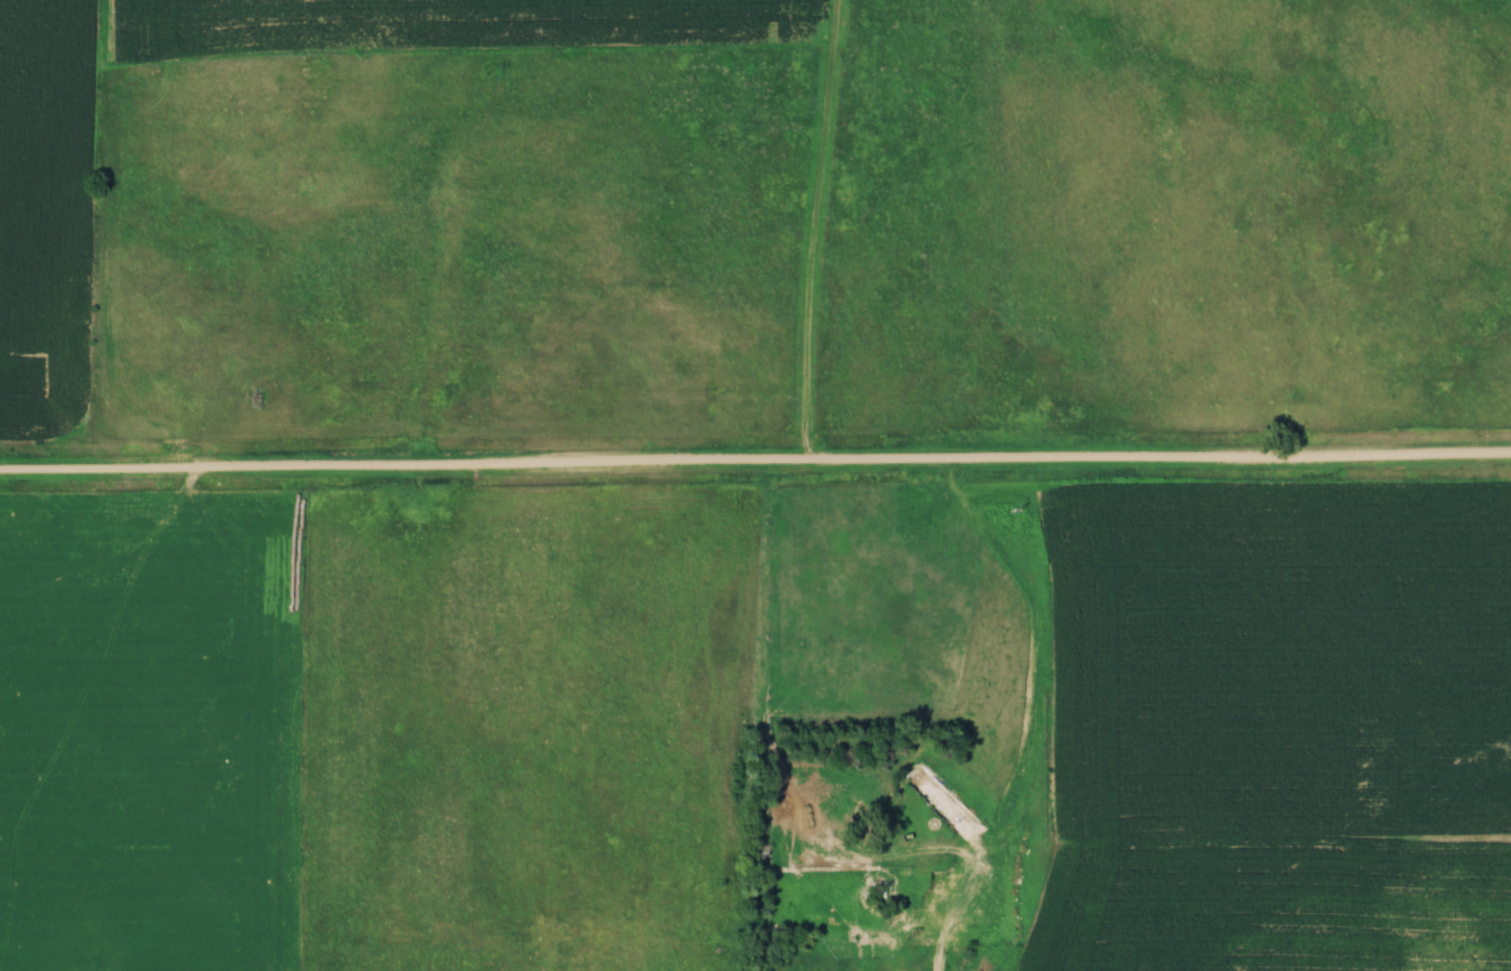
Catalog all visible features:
crop: (443, 28)
crop: (46, 216)
road: (816, 257)
road: (755, 459)
road: (1041, 718)

